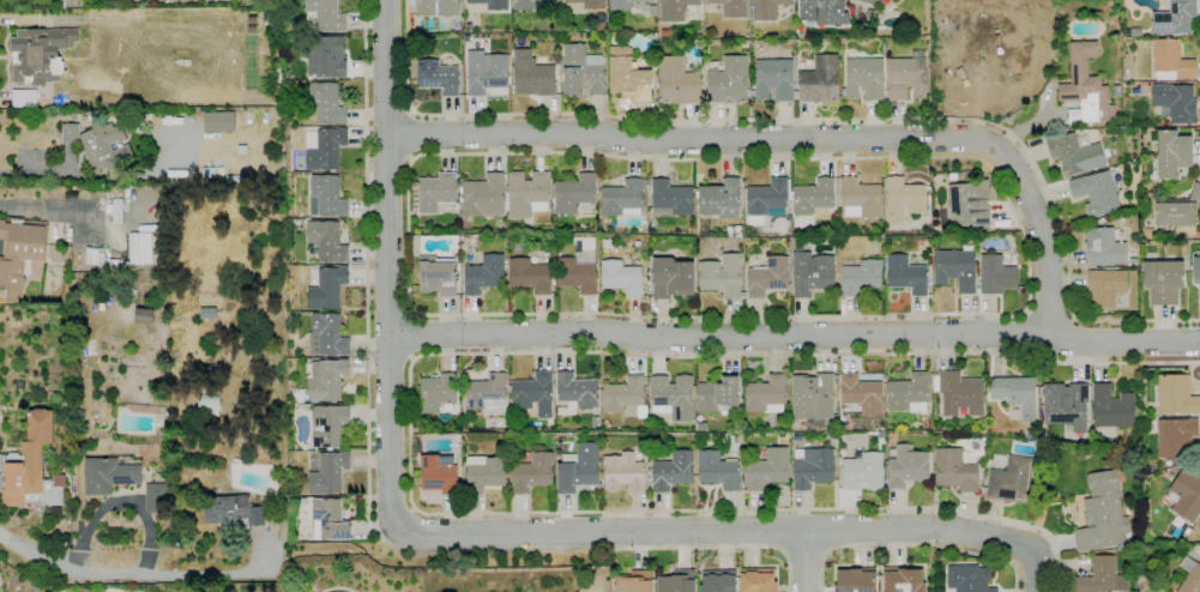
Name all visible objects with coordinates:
building: (411, 2)
building: (869, 2)
building: (526, 4)
building: (589, 4)
building: (623, 4)
building: (1000, 4)
building: (486, 5)
building: (438, 7)
building: (731, 7)
building: (675, 8)
building: (652, 10)
building: (766, 10)
building: (822, 12)
building: (869, 12)
building: (327, 14)
building: (1175, 18)
building: (553, 31)
building: (1007, 32)
building: (468, 38)
building: (743, 44)
building: (38, 54)
building: (326, 56)
building: (1170, 61)
building: (486, 72)
building: (581, 72)
building: (531, 75)
building: (438, 77)
building: (864, 78)
building: (906, 78)
building: (629, 79)
building: (726, 80)
building: (773, 80)
building: (819, 80)
building: (677, 83)
building: (656, 86)
building: (1085, 89)
building: (1116, 90)
building: (24, 98)
building: (1140, 99)
building: (327, 103)
building: (1176, 103)
road: (388, 109)
road: (386, 116)
road: (820, 119)
building: (218, 122)
road: (411, 135)
road: (795, 138)
building: (1133, 140)
building: (98, 144)
building: (327, 149)
building: (1074, 153)
building: (1132, 153)
building: (1172, 155)
road: (388, 157)
road: (25, 170)
building: (952, 177)
building: (435, 192)
building: (574, 193)
building: (1096, 193)
building: (526, 194)
building: (328, 195)
building: (484, 197)
building: (766, 197)
building: (670, 198)
building: (621, 199)
building: (719, 199)
building: (814, 199)
building: (858, 199)
building: (903, 199)
building: (969, 204)
road: (46, 210)
building: (1177, 210)
building: (999, 224)
building: (732, 232)
building: (978, 237)
building: (326, 241)
building: (140, 248)
building: (1103, 248)
building: (19, 254)
building: (1133, 261)
building: (955, 268)
building: (809, 271)
building: (1196, 271)
building: (577, 272)
building: (484, 274)
building: (905, 274)
building: (436, 276)
building: (529, 276)
building: (720, 276)
building: (860, 276)
building: (995, 276)
building: (767, 277)
building: (621, 278)
building: (671, 278)
building: (1163, 282)
road: (387, 284)
building: (1105, 286)
building: (327, 288)
road: (388, 300)
road: (1048, 312)
road: (1012, 315)
building: (327, 334)
road: (412, 334)
road: (794, 336)
road: (1031, 336)
road: (1074, 342)
road: (390, 357)
building: (326, 379)
road: (410, 388)
building: (436, 392)
building: (575, 392)
building: (861, 393)
building: (909, 393)
building: (486, 394)
building: (532, 394)
building: (623, 394)
building: (717, 394)
building: (766, 394)
building: (959, 394)
building: (1015, 394)
building: (1176, 395)
building: (813, 397)
building: (671, 398)
building: (1140, 398)
building: (1066, 405)
building: (1111, 409)
building: (1039, 416)
building: (464, 418)
building: (596, 422)
building: (605, 423)
building: (328, 424)
road: (388, 429)
building: (1175, 437)
building: (735, 440)
building: (977, 449)
building: (1168, 463)
building: (906, 466)
building: (34, 467)
building: (812, 467)
building: (578, 469)
building: (767, 469)
building: (954, 470)
building: (673, 471)
building: (718, 471)
building: (328, 472)
building: (863, 472)
building: (484, 473)
building: (532, 473)
building: (623, 473)
building: (109, 475)
building: (438, 476)
building: (984, 476)
building: (1012, 481)
building: (983, 490)
building: (1186, 494)
road: (368, 495)
building: (157, 497)
building: (231, 511)
building: (1102, 514)
building: (331, 519)
road: (782, 530)
road: (824, 530)
road: (732, 531)
road: (913, 545)
road: (806, 560)
road: (804, 561)
road: (127, 576)
building: (1102, 576)
building: (1189, 576)
building: (903, 579)
building: (969, 579)
building: (855, 580)
building: (634, 581)
building: (677, 581)
building: (719, 582)
building: (758, 582)

